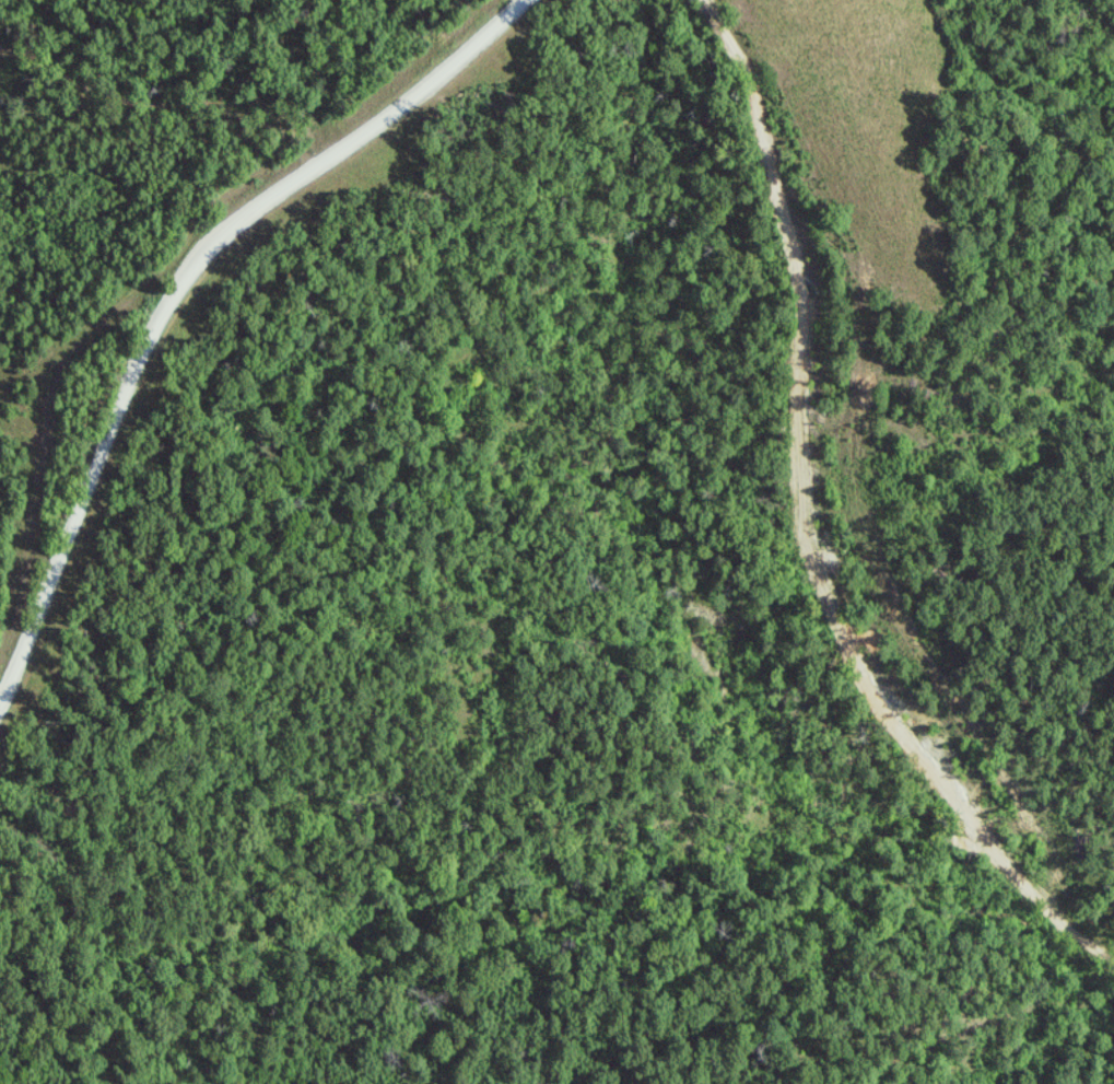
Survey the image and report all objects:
road: (186, 295)
road: (804, 480)

